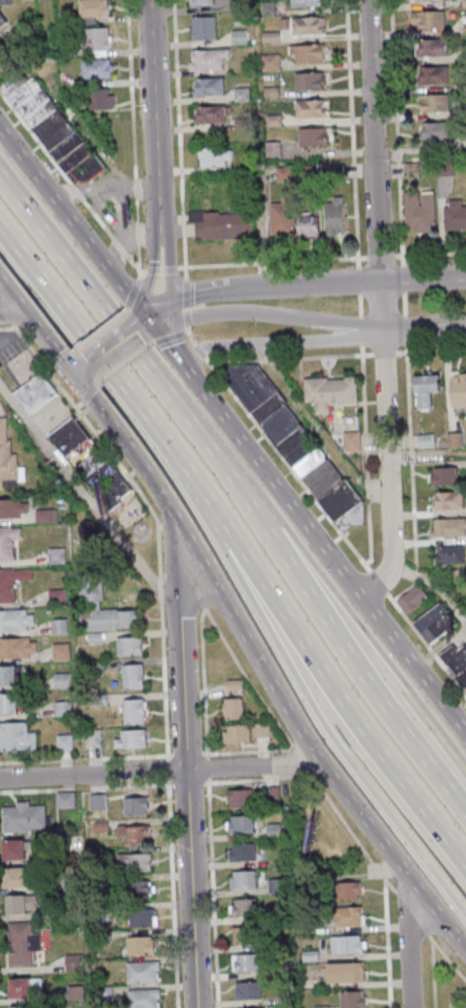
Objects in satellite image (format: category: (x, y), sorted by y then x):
building: (432, 0)
building: (6, 2)
building: (201, 2)
building: (307, 3)
building: (94, 8)
building: (428, 19)
building: (2, 20)
building: (308, 25)
building: (203, 27)
building: (99, 40)
building: (433, 47)
building: (307, 53)
building: (208, 58)
building: (271, 61)
building: (97, 68)
building: (435, 75)
building: (310, 80)
building: (208, 86)
building: (101, 98)
building: (435, 102)
building: (312, 107)
building: (212, 114)
road: (154, 116)
building: (53, 128)
building: (436, 130)
road: (179, 133)
road: (350, 133)
road: (133, 135)
building: (316, 136)
road: (373, 140)
building: (216, 156)
road: (69, 181)
building: (420, 211)
building: (336, 215)
building: (455, 215)
building: (282, 219)
building: (222, 224)
building: (309, 225)
road: (380, 257)
road: (274, 262)
road: (170, 264)
road: (161, 269)
road: (150, 272)
road: (422, 278)
road: (357, 280)
road: (303, 285)
road: (132, 290)
road: (201, 293)
road: (186, 298)
road: (358, 305)
road: (162, 307)
road: (176, 308)
road: (6, 313)
road: (12, 313)
traffic signals: (150, 315)
road: (307, 316)
road: (143, 321)
road: (7, 327)
road: (37, 330)
road: (99, 330)
road: (360, 330)
road: (170, 336)
road: (189, 338)
road: (84, 340)
road: (280, 343)
road: (111, 349)
road: (199, 350)
road: (431, 350)
road: (383, 352)
road: (288, 356)
road: (61, 361)
road: (124, 363)
road: (80, 375)
traffic signals: (75, 380)
building: (458, 388)
building: (427, 390)
building: (330, 392)
building: (35, 393)
road: (87, 396)
road: (88, 423)
road: (232, 427)
road: (314, 430)
building: (69, 436)
building: (456, 439)
building: (352, 441)
building: (297, 445)
road: (386, 445)
road: (127, 449)
road: (426, 454)
road: (365, 455)
building: (8, 460)
road: (288, 462)
building: (444, 475)
building: (105, 479)
road: (242, 493)
building: (448, 500)
road: (89, 504)
building: (14, 508)
building: (46, 515)
building: (448, 528)
building: (7, 541)
building: (450, 554)
building: (57, 555)
road: (183, 565)
road: (378, 581)
building: (12, 582)
road: (434, 585)
building: (58, 596)
building: (413, 599)
building: (104, 611)
building: (17, 620)
building: (435, 623)
building: (60, 625)
road: (218, 631)
road: (364, 631)
road: (162, 640)
road: (426, 643)
building: (130, 646)
building: (18, 647)
building: (60, 651)
road: (315, 658)
building: (457, 662)
building: (9, 675)
building: (133, 676)
road: (203, 683)
building: (235, 684)
road: (301, 692)
building: (9, 703)
building: (63, 708)
building: (234, 708)
building: (135, 711)
building: (237, 733)
building: (17, 737)
building: (93, 738)
building: (133, 738)
building: (65, 742)
road: (307, 743)
road: (241, 751)
road: (187, 754)
road: (85, 758)
road: (185, 764)
road: (207, 767)
road: (167, 768)
road: (160, 771)
road: (240, 780)
road: (189, 782)
road: (86, 787)
building: (272, 796)
building: (66, 799)
building: (239, 799)
building: (98, 801)
building: (136, 805)
building: (24, 817)
building: (241, 827)
building: (273, 832)
building: (134, 833)
building: (16, 849)
building: (242, 853)
building: (135, 861)
building: (18, 877)
building: (242, 881)
building: (276, 887)
building: (305, 888)
building: (140, 889)
building: (344, 891)
road: (212, 892)
road: (172, 893)
building: (21, 904)
building: (244, 909)
building: (344, 916)
building: (143, 917)
building: (245, 937)
road: (407, 940)
building: (23, 942)
building: (281, 943)
building: (142, 945)
building: (345, 945)
building: (309, 956)
building: (74, 962)
building: (245, 964)
building: (144, 971)
building: (345, 973)
building: (25, 987)
building: (247, 991)
building: (77, 993)
building: (144, 998)
building: (286, 1000)
building: (351, 1000)
building: (457, 1003)
building: (21, 1006)
building: (320, 1006)

